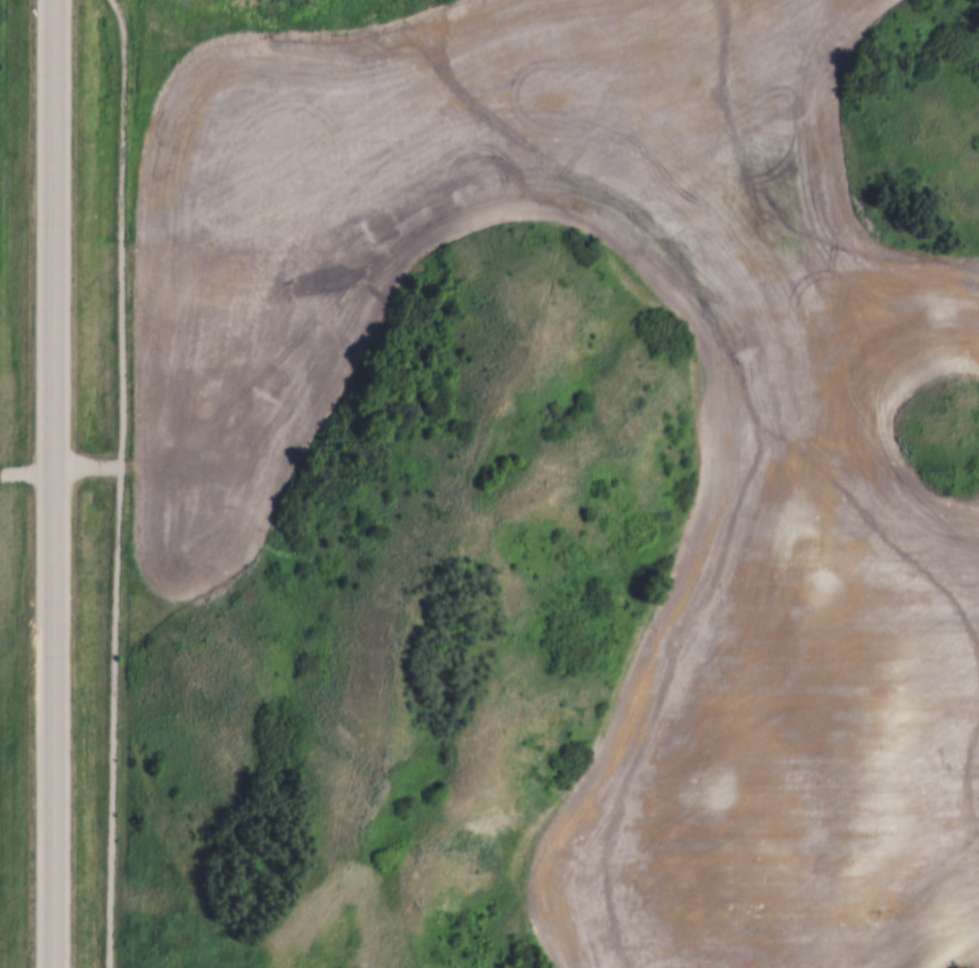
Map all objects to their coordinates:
road: (84, 465)
road: (115, 482)
road: (51, 484)
road: (418, 611)

